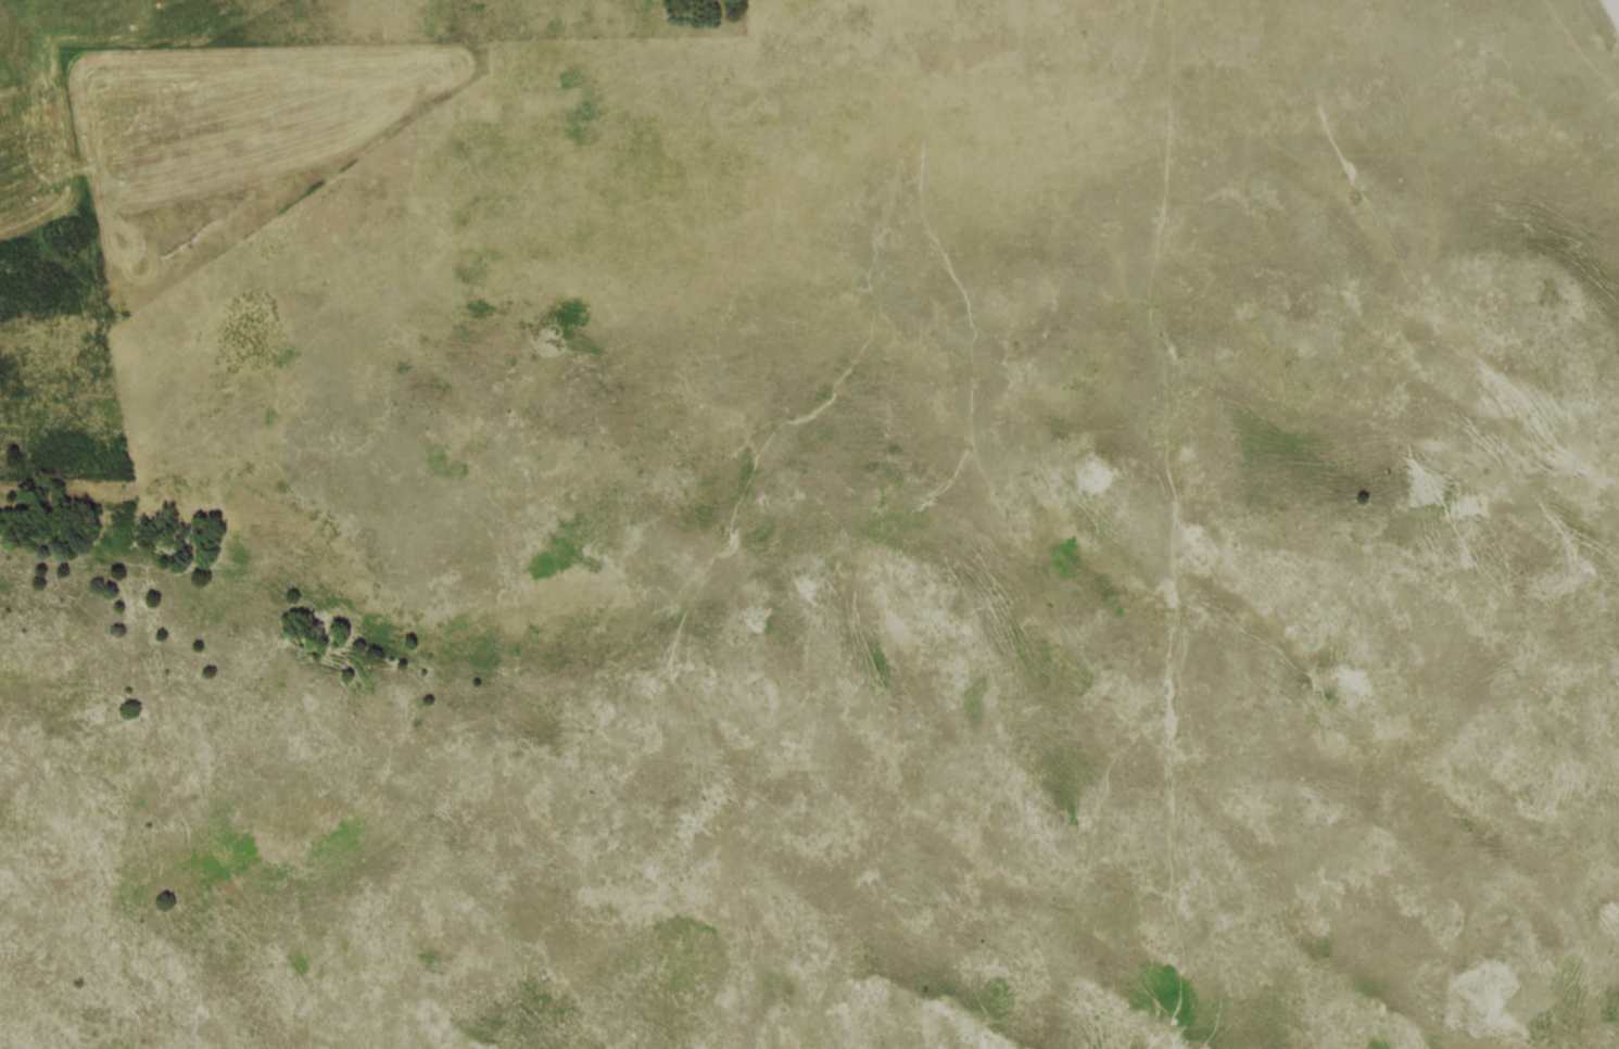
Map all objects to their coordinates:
road: (1615, 7)

